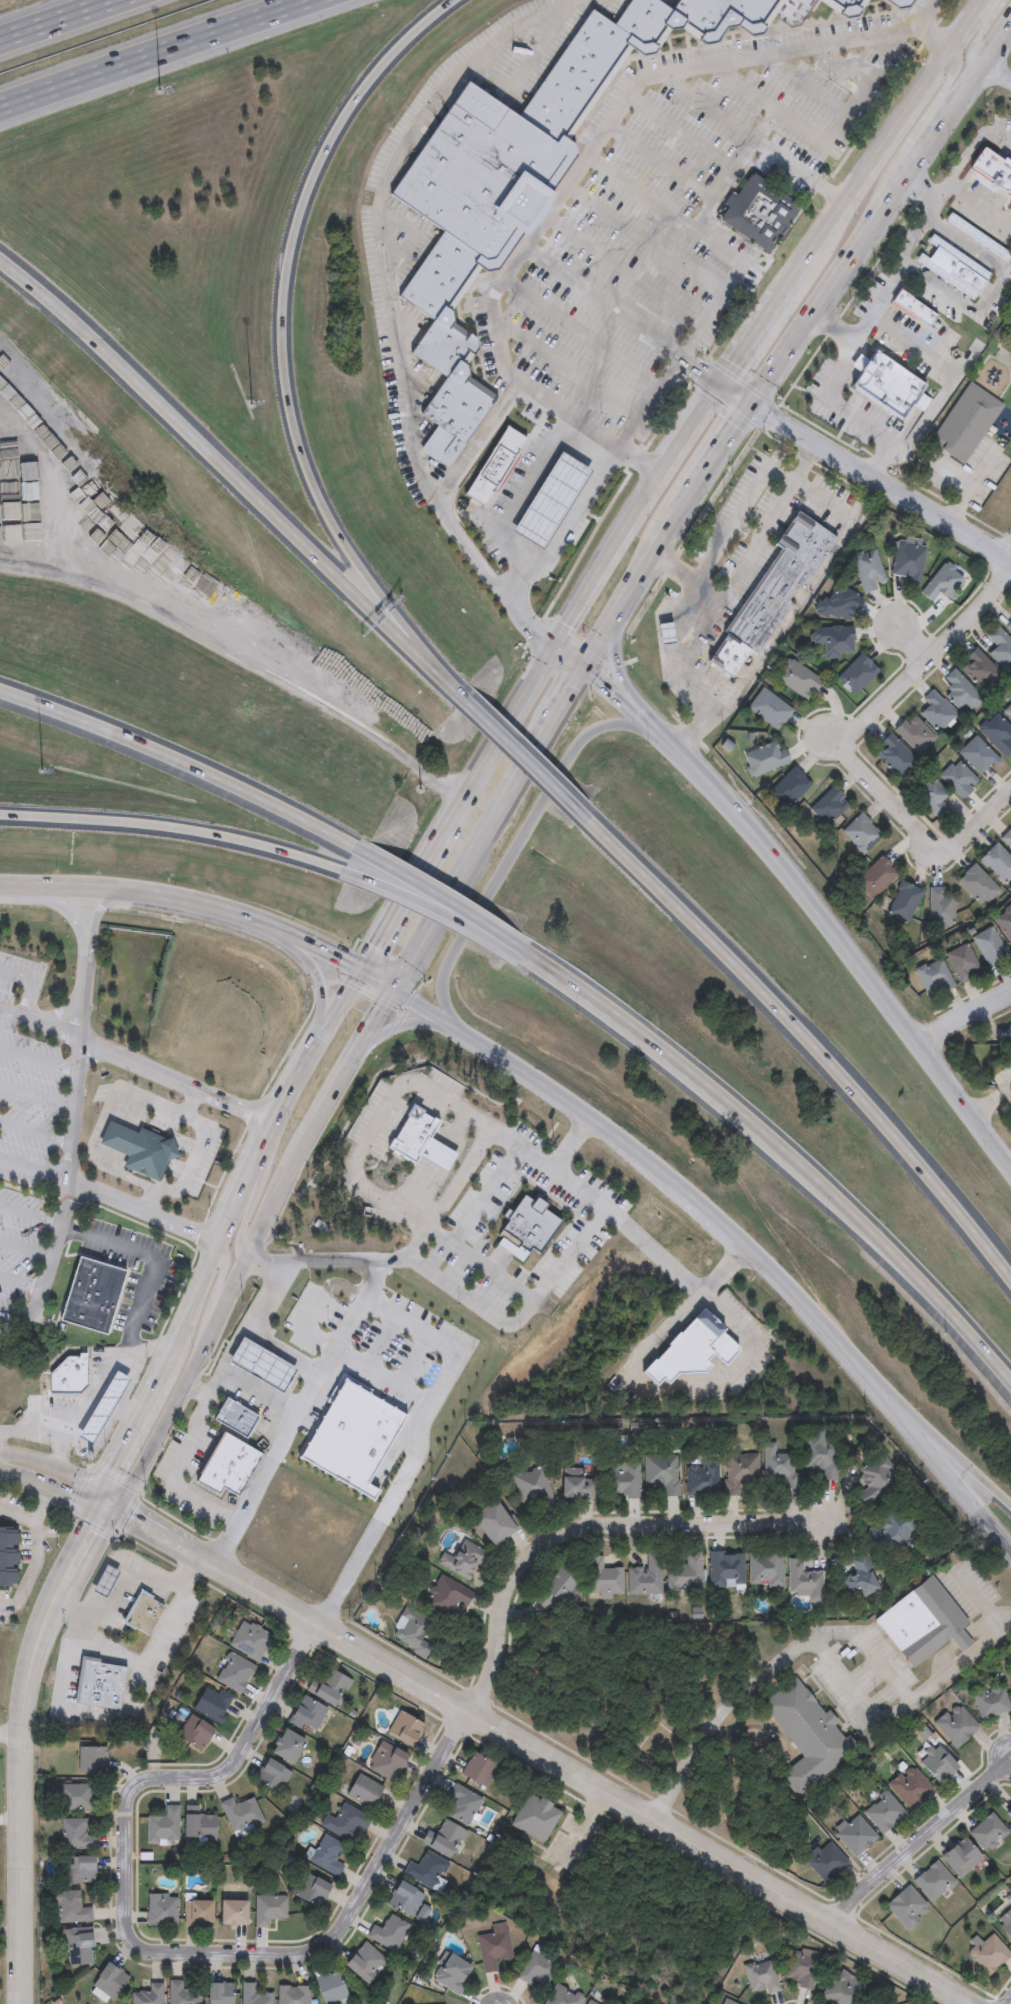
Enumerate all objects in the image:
building: (896, 3)
building: (843, 7)
road: (928, 13)
road: (57, 19)
road: (966, 21)
road: (936, 34)
road: (979, 34)
road: (999, 50)
road: (152, 53)
road: (999, 73)
road: (941, 90)
road: (961, 105)
road: (752, 138)
road: (972, 145)
road: (876, 152)
road: (925, 157)
building: (992, 170)
road: (572, 175)
building: (517, 180)
road: (939, 191)
road: (977, 206)
building: (757, 212)
parking lot: (688, 214)
building: (952, 269)
road: (791, 279)
road: (726, 286)
road: (835, 287)
road: (993, 291)
road: (393, 298)
building: (912, 308)
road: (751, 338)
road: (288, 346)
road: (700, 368)
road: (944, 368)
building: (840, 377)
traffic signals: (722, 382)
building: (885, 384)
road: (832, 396)
traffic signals: (755, 405)
building: (905, 425)
building: (966, 425)
road: (690, 427)
road: (483, 444)
road: (802, 460)
road: (715, 462)
building: (494, 466)
road: (237, 470)
road: (866, 470)
road: (954, 475)
road: (973, 485)
road: (521, 494)
building: (551, 502)
gas station: (551, 502)
road: (576, 506)
building: (8, 520)
road: (725, 532)
building: (115, 540)
building: (138, 547)
road: (607, 555)
building: (907, 559)
road: (745, 562)
building: (868, 571)
road: (647, 573)
building: (942, 583)
road: (529, 586)
building: (772, 595)
building: (837, 605)
road: (793, 613)
building: (1008, 626)
road: (201, 636)
traffic signals: (557, 640)
building: (831, 641)
road: (915, 642)
road: (602, 646)
building: (1000, 650)
road: (682, 651)
road: (573, 654)
gas station: (727, 657)
road: (615, 668)
traffic signals: (589, 669)
building: (978, 671)
building: (856, 675)
building: (796, 680)
road: (609, 689)
building: (960, 693)
road: (572, 695)
building: (768, 710)
building: (936, 713)
building: (1008, 713)
road: (638, 718)
building: (913, 735)
building: (997, 735)
road: (834, 738)
road: (499, 739)
road: (660, 740)
road: (844, 747)
road: (177, 752)
road: (526, 756)
building: (977, 757)
building: (893, 758)
building: (764, 759)
building: (957, 780)
building: (788, 788)
building: (932, 799)
building: (828, 807)
road: (171, 828)
building: (861, 834)
building: (1007, 841)
road: (476, 852)
road: (516, 853)
building: (997, 864)
building: (875, 878)
building: (977, 886)
road: (208, 899)
road: (49, 901)
road: (403, 902)
building: (903, 903)
road: (448, 905)
road: (101, 906)
building: (940, 908)
road: (443, 917)
building: (1003, 924)
building: (988, 948)
road: (849, 953)
building: (961, 965)
traffic signals: (366, 966)
building: (932, 979)
road: (316, 982)
road: (29, 983)
traffic signals: (398, 986)
road: (342, 1007)
road: (969, 1017)
road: (38, 1020)
road: (404, 1025)
building: (1010, 1028)
road: (806, 1038)
road: (37, 1060)
road: (535, 1076)
road: (178, 1080)
road: (36, 1097)
road: (333, 1101)
road: (196, 1102)
road: (993, 1103)
road: (374, 1123)
road: (99, 1124)
road: (35, 1132)
road: (570, 1139)
building: (419, 1141)
road: (70, 1148)
road: (270, 1148)
building: (137, 1149)
road: (534, 1152)
road: (194, 1159)
road: (791, 1161)
road: (33, 1171)
road: (152, 1203)
road: (478, 1208)
road: (701, 1211)
road: (144, 1213)
road: (30, 1216)
road: (246, 1216)
building: (525, 1229)
road: (26, 1248)
road: (321, 1261)
road: (722, 1264)
road: (492, 1271)
road: (146, 1278)
road: (217, 1290)
building: (89, 1295)
road: (312, 1306)
road: (801, 1306)
road: (191, 1307)
road: (519, 1318)
road: (237, 1339)
road: (381, 1342)
building: (690, 1351)
road: (280, 1352)
road: (413, 1360)
road: (197, 1363)
building: (266, 1366)
gas station: (266, 1366)
building: (68, 1376)
road: (381, 1376)
road: (675, 1388)
road: (257, 1392)
building: (90, 1406)
gas station: (90, 1406)
road: (297, 1407)
road: (128, 1408)
building: (234, 1415)
road: (108, 1424)
road: (36, 1428)
road: (129, 1429)
building: (353, 1433)
road: (937, 1434)
road: (421, 1443)
building: (820, 1457)
road: (937, 1459)
building: (228, 1464)
road: (52, 1465)
building: (779, 1465)
road: (175, 1470)
building: (740, 1471)
building: (662, 1473)
building: (702, 1478)
building: (622, 1480)
building: (872, 1481)
road: (47, 1486)
building: (576, 1487)
traffic signals: (100, 1490)
building: (532, 1490)
road: (97, 1496)
road: (110, 1499)
traffic signals: (95, 1503)
road: (43, 1505)
road: (107, 1505)
traffic signals: (120, 1508)
road: (93, 1514)
road: (106, 1517)
road: (583, 1521)
building: (491, 1523)
road: (111, 1532)
building: (889, 1532)
road: (36, 1548)
building: (9, 1555)
building: (464, 1559)
building: (726, 1569)
building: (766, 1570)
building: (685, 1573)
road: (126, 1574)
building: (645, 1577)
building: (603, 1578)
building: (858, 1578)
building: (105, 1579)
gas station: (105, 1579)
building: (804, 1581)
building: (557, 1588)
building: (447, 1596)
road: (981, 1604)
road: (6, 1605)
building: (141, 1614)
building: (923, 1624)
building: (412, 1633)
building: (248, 1640)
road: (30, 1668)
building: (233, 1673)
building: (100, 1685)
building: (327, 1687)
road: (856, 1695)
road: (903, 1696)
building: (992, 1702)
building: (211, 1704)
building: (306, 1713)
road: (113, 1715)
road: (720, 1719)
building: (957, 1726)
building: (404, 1729)
road: (12, 1730)
building: (193, 1734)
building: (807, 1737)
building: (285, 1746)
road: (545, 1757)
building: (91, 1760)
building: (385, 1761)
building: (939, 1765)
building: (477, 1770)
road: (186, 1776)
building: (271, 1776)
building: (910, 1787)
building: (363, 1791)
building: (73, 1797)
building: (462, 1805)
building: (240, 1813)
building: (884, 1813)
building: (1009, 1814)
building: (535, 1818)
building: (344, 1822)
road: (12, 1824)
building: (163, 1826)
building: (199, 1827)
building: (988, 1832)
building: (74, 1834)
building: (856, 1836)
building: (442, 1839)
road: (925, 1845)
building: (326, 1855)
building: (961, 1857)
building: (79, 1869)
building: (425, 1870)
building: (933, 1881)
building: (310, 1890)
building: (403, 1899)
building: (906, 1907)
building: (69, 1908)
building: (268, 1908)
building: (161, 1910)
building: (197, 1912)
building: (231, 1912)
road: (23, 1914)
road: (346, 1917)
building: (1005, 1923)
building: (388, 1932)
building: (77, 1947)
building: (492, 1949)
building: (989, 1953)
building: (364, 1962)
building: (801, 1967)
building: (536, 1970)
building: (451, 1973)
building: (761, 1976)
building: (108, 1981)
building: (329, 1988)
building: (840, 1989)
building: (218, 1993)
building: (181, 1994)
building: (147, 1995)
building: (251, 1995)
building: (291, 1995)
building: (561, 1996)
building: (592, 2001)
building: (727, 2002)

